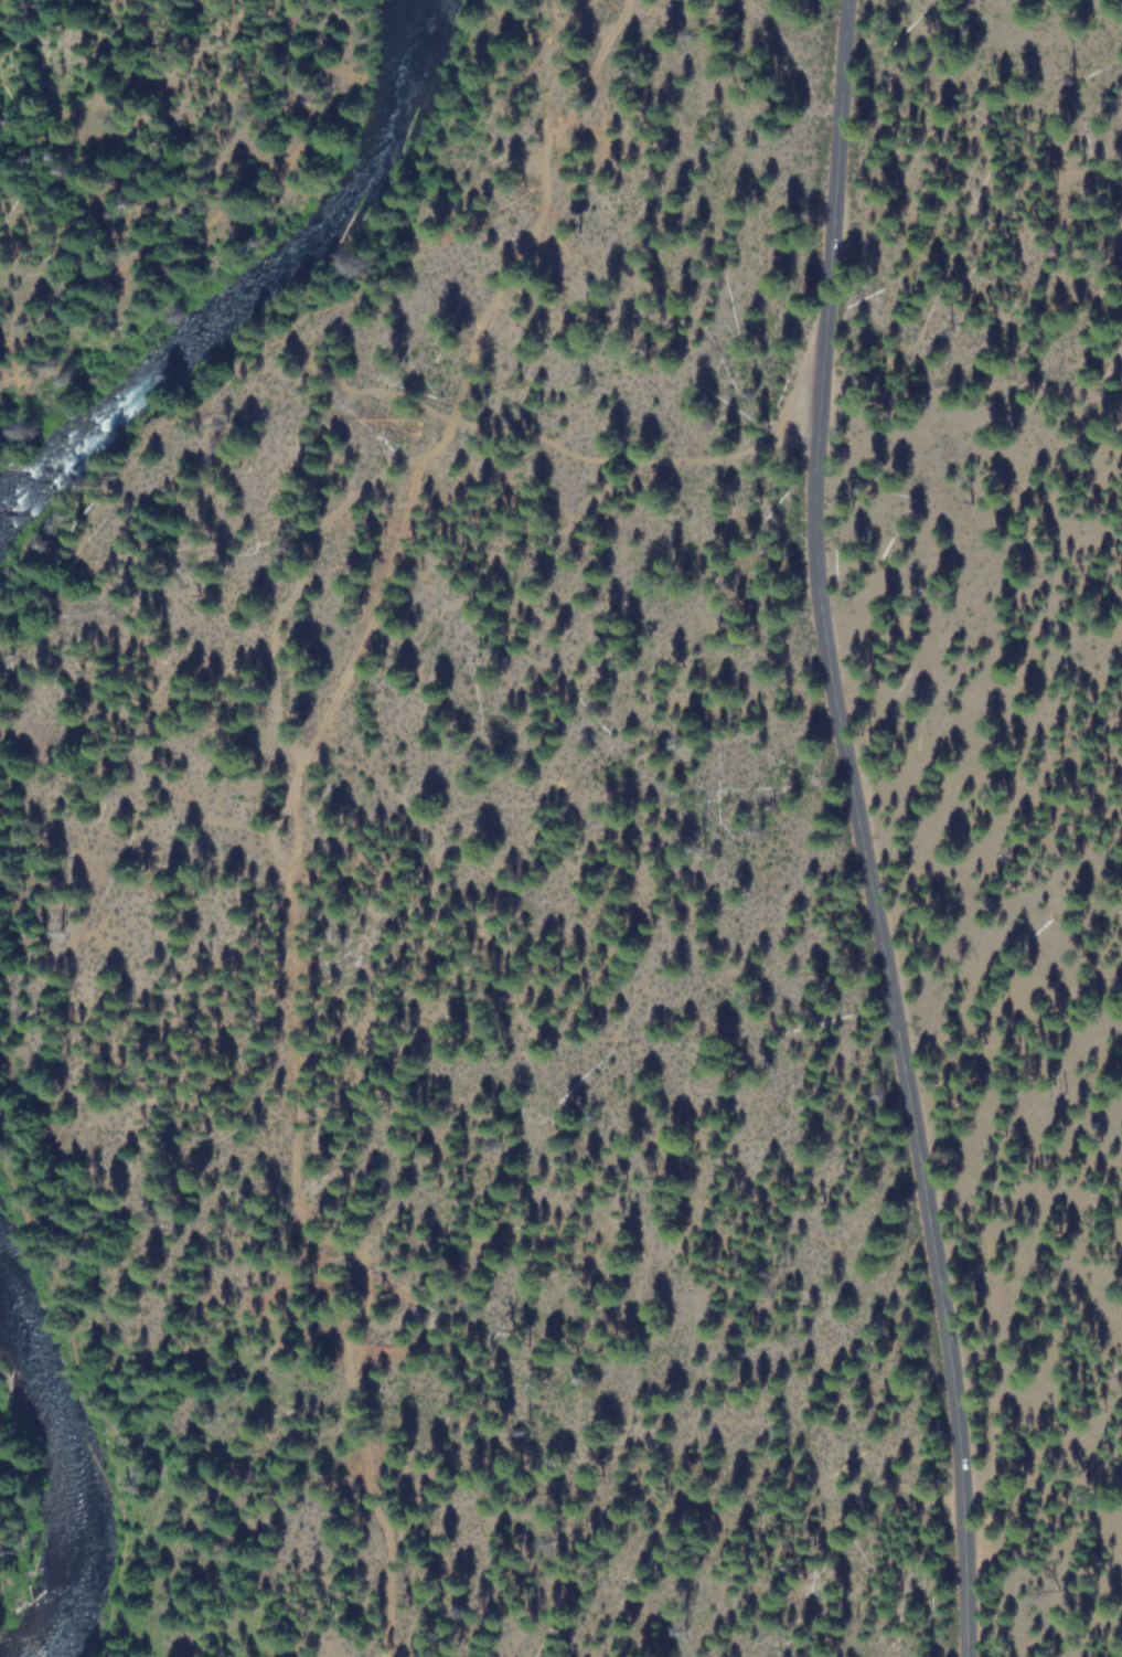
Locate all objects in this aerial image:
road: (206, 208)
river: (239, 286)
road: (273, 326)
road: (856, 830)
road: (63, 1402)
river: (42, 1501)

